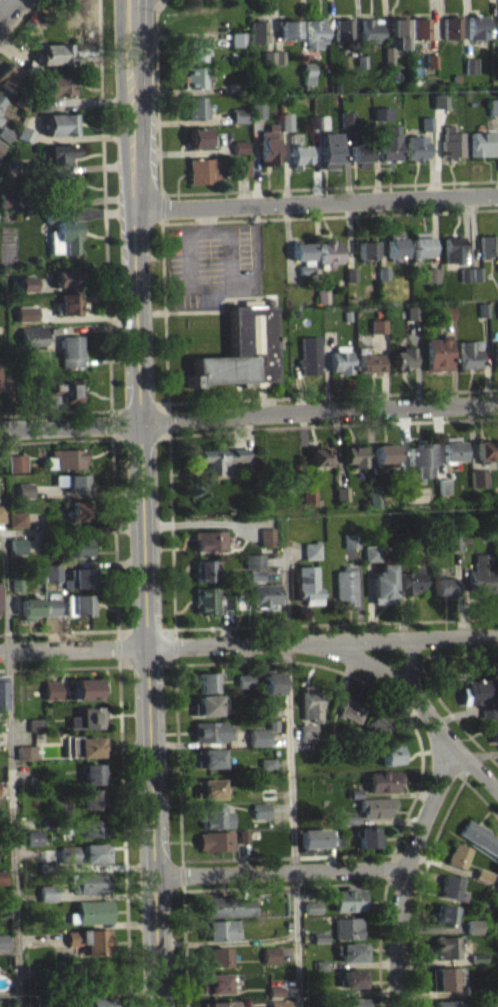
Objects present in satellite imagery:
road: (161, 1)
road: (162, 1)
road: (6, 8)
road: (330, 13)
road: (492, 18)
road: (18, 19)
road: (386, 22)
road: (270, 25)
road: (275, 25)
building: (420, 25)
building: (452, 25)
building: (497, 25)
road: (357, 26)
road: (432, 26)
building: (477, 26)
building: (289, 27)
building: (342, 27)
road: (464, 28)
building: (371, 29)
road: (119, 30)
road: (142, 30)
building: (258, 30)
road: (303, 31)
building: (399, 31)
building: (315, 32)
road: (186, 34)
building: (238, 38)
building: (237, 45)
building: (195, 47)
road: (18, 51)
building: (56, 53)
building: (388, 54)
building: (279, 57)
building: (268, 59)
building: (361, 59)
building: (432, 60)
building: (472, 65)
building: (309, 73)
building: (15, 74)
building: (195, 76)
building: (60, 83)
building: (237, 86)
road: (181, 89)
road: (7, 93)
building: (1, 99)
building: (21, 100)
building: (439, 100)
road: (91, 102)
building: (43, 103)
building: (493, 105)
building: (197, 106)
building: (1, 108)
building: (257, 109)
road: (159, 112)
building: (378, 113)
building: (240, 114)
building: (0, 117)
building: (347, 118)
building: (286, 120)
road: (183, 121)
building: (319, 121)
building: (60, 122)
building: (426, 122)
road: (496, 129)
building: (4, 132)
building: (26, 133)
building: (198, 135)
road: (80, 137)
building: (451, 141)
building: (481, 141)
building: (1, 143)
building: (389, 143)
building: (269, 145)
building: (239, 146)
building: (415, 147)
building: (329, 148)
building: (1, 151)
building: (61, 151)
building: (361, 151)
road: (183, 152)
road: (437, 152)
building: (298, 153)
road: (376, 160)
road: (255, 161)
road: (346, 163)
road: (430, 164)
road: (316, 165)
road: (285, 166)
road: (73, 167)
building: (241, 167)
building: (205, 169)
building: (65, 184)
road: (329, 186)
road: (242, 190)
building: (8, 198)
road: (75, 200)
road: (317, 202)
building: (8, 205)
road: (105, 205)
road: (105, 212)
road: (329, 215)
building: (63, 227)
road: (466, 231)
road: (473, 231)
road: (381, 232)
road: (435, 232)
road: (348, 234)
road: (288, 241)
building: (421, 244)
building: (488, 244)
road: (317, 245)
building: (395, 247)
building: (366, 248)
building: (454, 248)
building: (330, 252)
building: (303, 255)
parking lot: (212, 262)
road: (295, 269)
building: (383, 272)
building: (351, 273)
building: (464, 273)
building: (477, 273)
building: (432, 274)
building: (66, 275)
building: (26, 281)
building: (432, 281)
road: (200, 286)
road: (85, 287)
building: (25, 290)
building: (322, 294)
building: (69, 302)
building: (483, 308)
building: (445, 311)
building: (412, 312)
building: (30, 314)
building: (347, 315)
road: (87, 317)
building: (411, 319)
building: (28, 320)
road: (165, 321)
building: (378, 325)
road: (92, 327)
building: (378, 332)
building: (36, 335)
building: (71, 350)
building: (240, 350)
building: (437, 351)
building: (469, 353)
building: (494, 353)
building: (309, 354)
building: (402, 357)
road: (110, 358)
building: (340, 358)
road: (486, 359)
road: (452, 360)
building: (370, 361)
road: (416, 362)
road: (384, 369)
road: (327, 372)
building: (0, 383)
road: (299, 386)
building: (63, 390)
road: (333, 395)
road: (84, 410)
road: (55, 416)
road: (249, 416)
road: (112, 424)
road: (333, 424)
road: (238, 432)
road: (471, 437)
road: (15, 441)
road: (84, 441)
road: (438, 441)
road: (404, 445)
road: (371, 446)
building: (486, 447)
road: (336, 448)
building: (452, 448)
road: (304, 450)
building: (386, 453)
building: (354, 454)
building: (318, 456)
building: (420, 456)
building: (66, 457)
building: (221, 457)
building: (18, 462)
building: (478, 477)
building: (73, 480)
building: (443, 484)
building: (72, 488)
building: (26, 489)
building: (407, 492)
road: (88, 494)
building: (309, 494)
building: (344, 495)
building: (375, 495)
building: (82, 508)
building: (3, 512)
road: (40, 517)
building: (78, 517)
building: (18, 518)
road: (204, 523)
road: (72, 529)
road: (144, 532)
road: (172, 533)
road: (116, 534)
building: (269, 536)
building: (210, 538)
building: (352, 539)
building: (456, 541)
building: (18, 545)
building: (80, 546)
building: (313, 549)
building: (456, 549)
road: (294, 552)
building: (373, 552)
road: (274, 559)
building: (255, 560)
road: (103, 562)
building: (204, 569)
building: (53, 571)
building: (255, 574)
road: (274, 574)
building: (482, 575)
building: (81, 577)
building: (410, 580)
building: (17, 583)
building: (308, 583)
building: (384, 583)
building: (347, 584)
building: (445, 584)
road: (360, 593)
road: (459, 593)
building: (266, 595)
building: (205, 598)
building: (232, 600)
road: (370, 600)
road: (466, 600)
road: (16, 602)
building: (79, 603)
building: (52, 605)
building: (30, 607)
building: (232, 607)
building: (52, 613)
road: (404, 616)
road: (336, 622)
road: (128, 629)
road: (53, 631)
road: (59, 631)
road: (248, 643)
road: (460, 655)
road: (249, 658)
road: (410, 661)
road: (51, 665)
road: (59, 667)
building: (246, 680)
road: (343, 680)
building: (208, 681)
building: (273, 681)
road: (368, 682)
building: (246, 686)
building: (88, 687)
building: (52, 688)
building: (480, 690)
building: (3, 691)
building: (312, 703)
road: (422, 703)
building: (208, 704)
building: (352, 709)
building: (489, 711)
building: (263, 712)
road: (280, 713)
road: (403, 713)
road: (451, 713)
road: (458, 714)
building: (88, 716)
building: (488, 719)
building: (36, 723)
road: (5, 724)
building: (274, 724)
building: (376, 728)
building: (35, 730)
building: (214, 730)
building: (308, 731)
road: (295, 732)
building: (495, 733)
building: (260, 736)
road: (279, 737)
building: (87, 744)
road: (202, 744)
building: (27, 751)
building: (391, 753)
road: (479, 755)
building: (210, 756)
building: (26, 758)
road: (179, 759)
road: (283, 761)
building: (268, 762)
road: (291, 762)
road: (12, 769)
building: (268, 769)
building: (94, 772)
building: (37, 780)
building: (384, 780)
road: (21, 781)
building: (210, 787)
building: (270, 792)
building: (354, 792)
road: (396, 793)
building: (95, 797)
road: (482, 798)
building: (376, 805)
building: (61, 807)
road: (124, 808)
road: (111, 810)
building: (262, 810)
road: (281, 810)
building: (216, 815)
building: (350, 818)
road: (391, 820)
building: (95, 826)
building: (256, 833)
building: (243, 835)
building: (368, 836)
building: (479, 836)
building: (36, 837)
building: (316, 837)
building: (216, 840)
building: (340, 840)
building: (86, 852)
building: (459, 854)
road: (287, 856)
road: (331, 856)
road: (243, 857)
road: (444, 865)
building: (48, 866)
road: (105, 866)
road: (390, 867)
road: (281, 871)
building: (483, 873)
road: (424, 874)
road: (405, 875)
building: (4, 877)
building: (92, 882)
building: (497, 883)
road: (246, 884)
road: (285, 886)
building: (451, 886)
road: (421, 889)
building: (48, 892)
building: (496, 893)
road: (106, 895)
building: (349, 898)
building: (229, 905)
road: (300, 906)
building: (312, 906)
building: (92, 912)
building: (446, 912)
building: (311, 913)
road: (135, 923)
building: (474, 925)
building: (495, 925)
building: (348, 927)
road: (432, 927)
building: (218, 928)
building: (473, 932)
building: (319, 937)
road: (43, 938)
building: (92, 939)
building: (3, 940)
road: (184, 940)
road: (227, 941)
road: (380, 944)
building: (447, 945)
building: (352, 951)
building: (270, 953)
building: (214, 956)
building: (478, 957)
building: (270, 961)
road: (434, 962)
building: (319, 964)
road: (361, 964)
building: (83, 972)
building: (353, 977)
building: (443, 977)
building: (216, 982)
building: (276, 990)
road: (290, 990)
road: (370, 992)
building: (472, 993)
road: (432, 994)
building: (275, 997)
building: (44, 1001)
building: (99, 1001)
building: (355, 1002)
building: (448, 1002)
building: (222, 1003)
building: (280, 1003)

